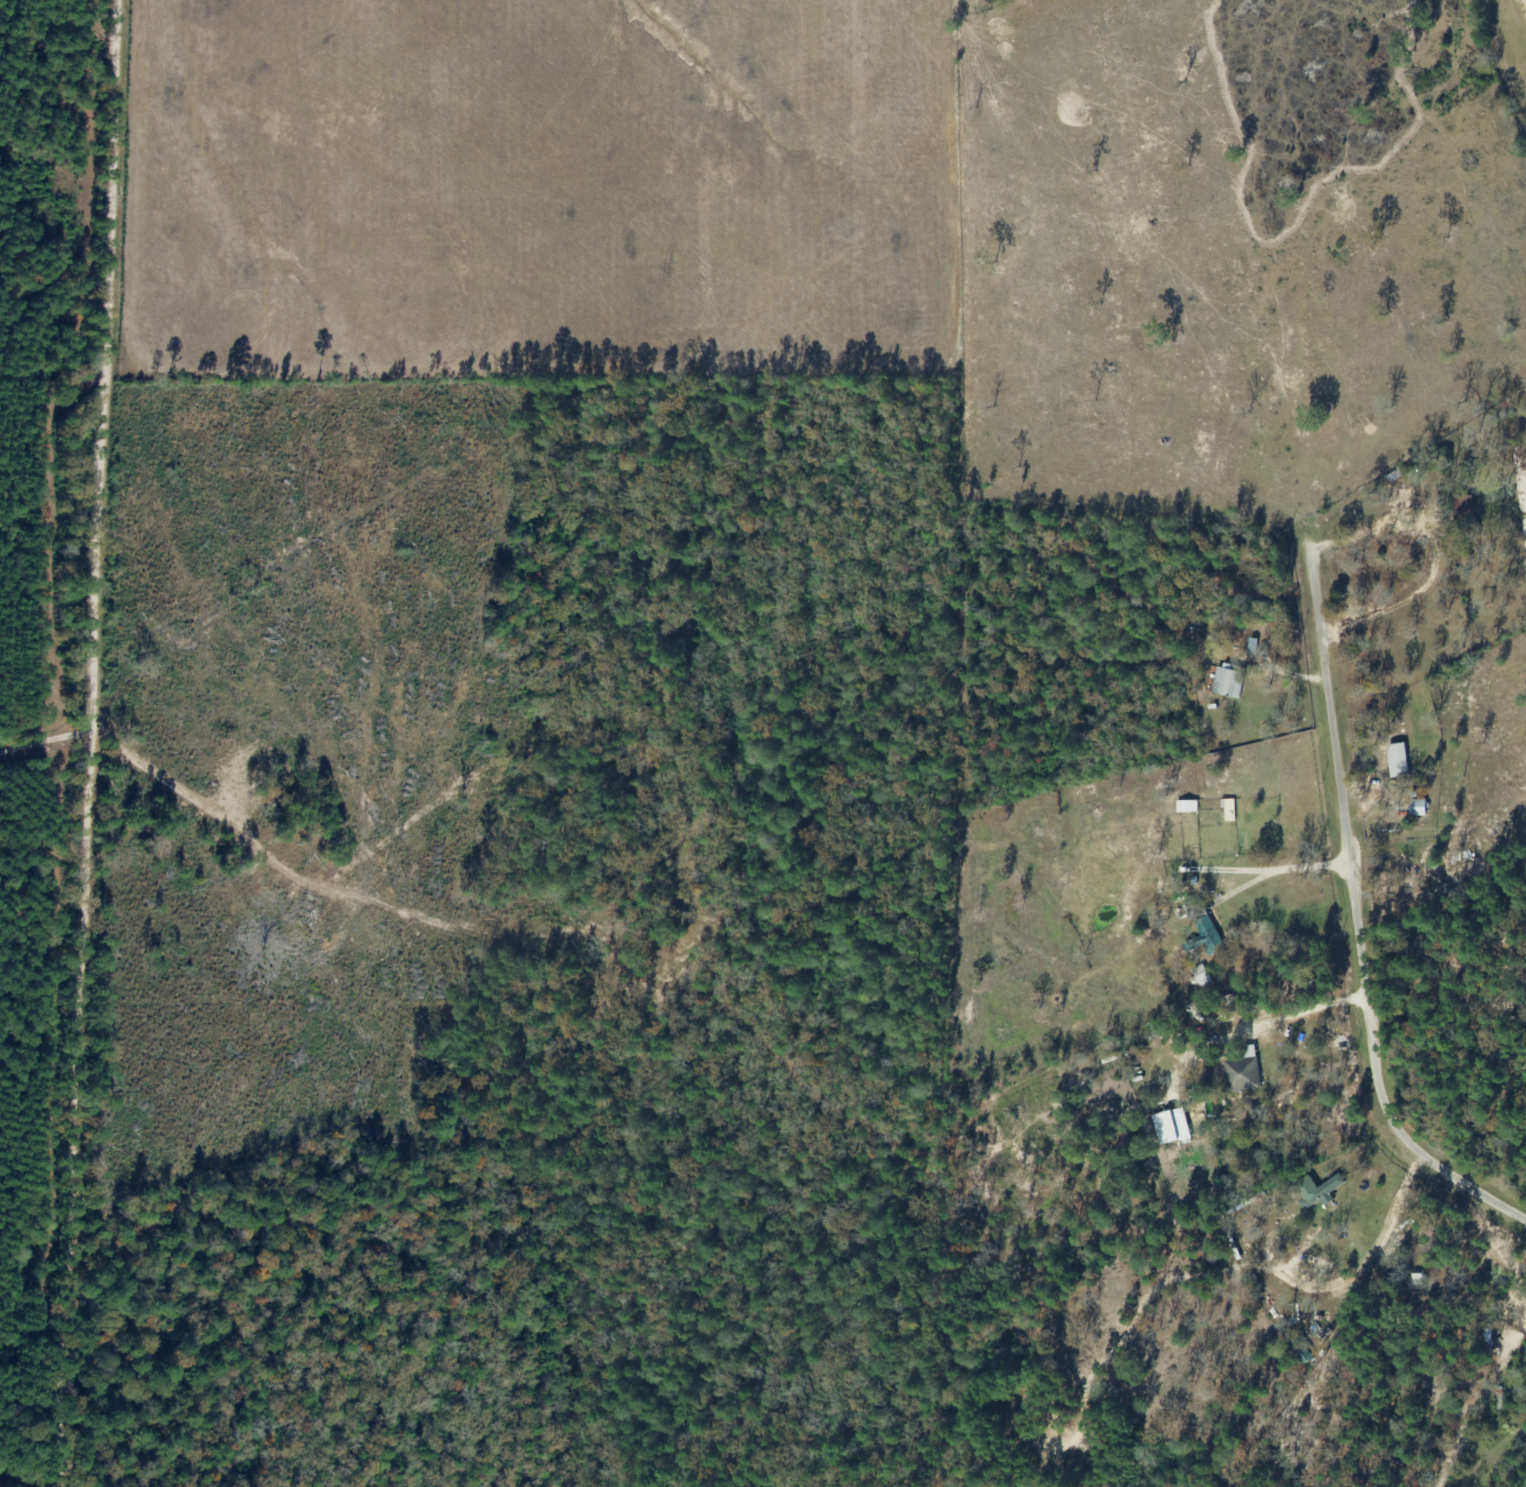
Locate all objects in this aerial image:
road: (538, 408)
building: (1228, 684)
road: (958, 739)
road: (114, 743)
building: (1398, 761)
road: (57, 770)
building: (1187, 807)
building: (1419, 809)
road: (1356, 919)
building: (1210, 936)
building: (1243, 1071)
building: (1172, 1127)
building: (1317, 1192)

